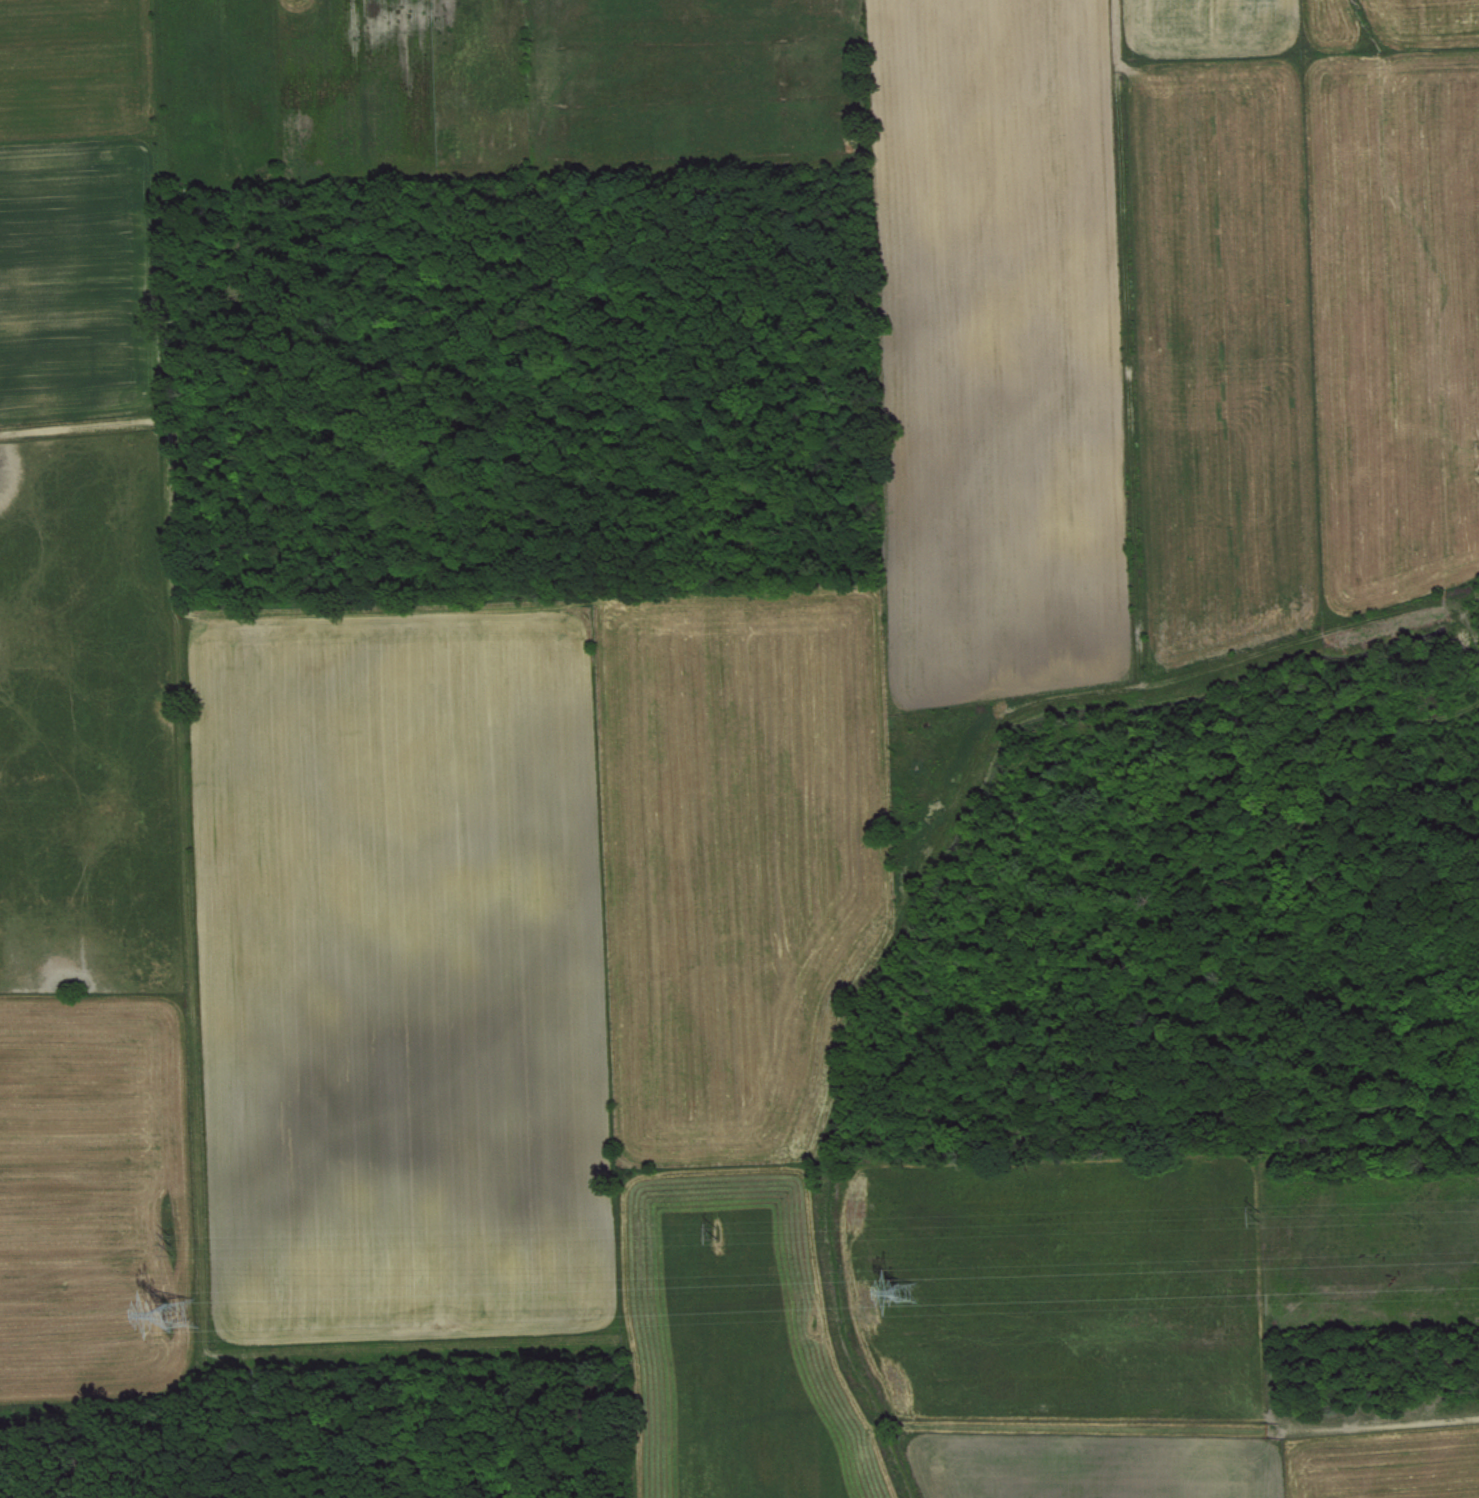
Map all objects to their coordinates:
power tower: (1262, 1215)
power tower: (721, 1232)
power tower: (177, 1250)
power tower: (911, 1287)
power tower: (174, 1309)

